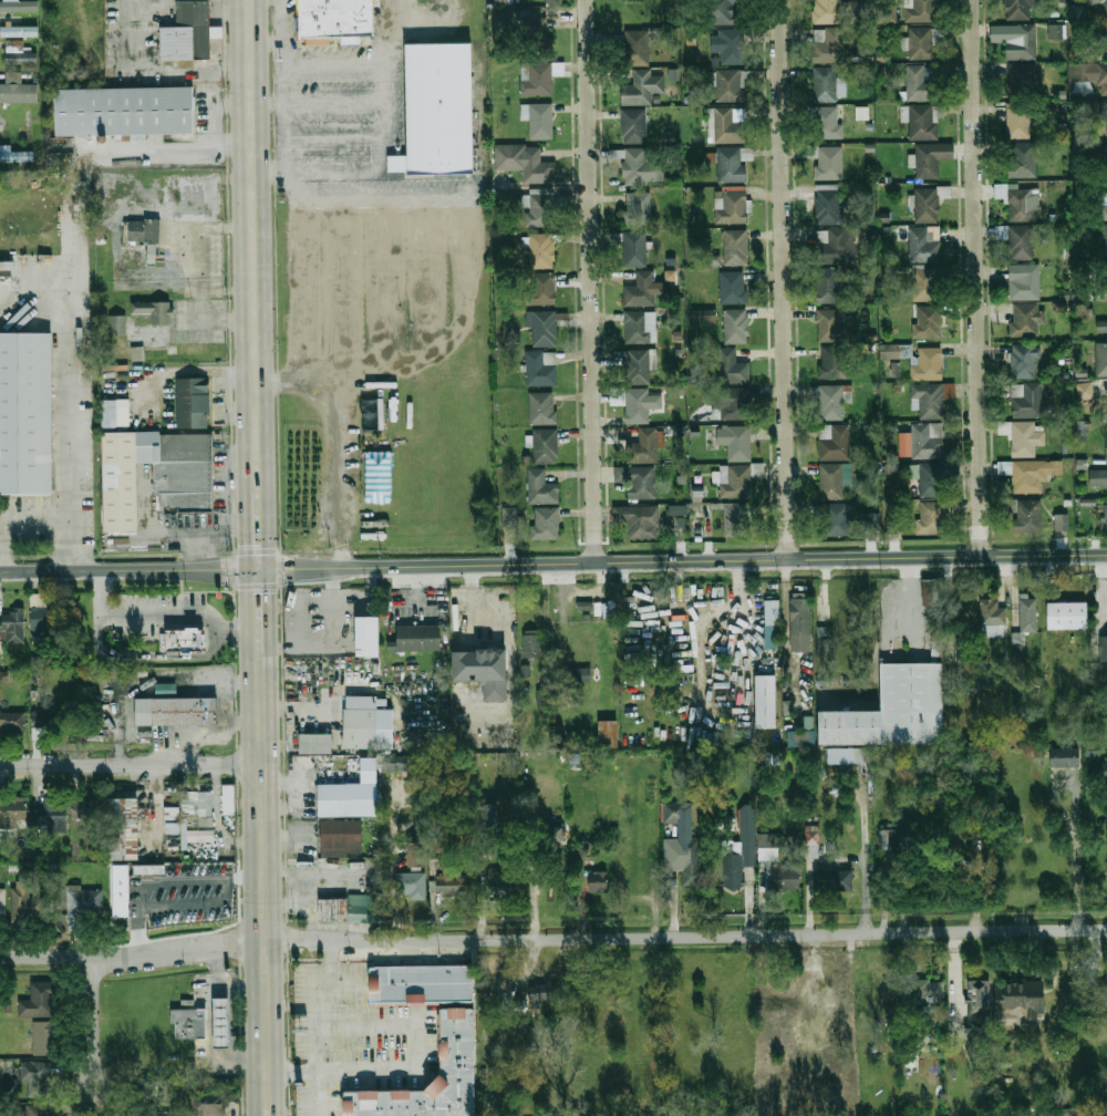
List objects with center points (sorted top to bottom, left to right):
building: (503, 1)
parking lot: (282, 4)
building: (19, 7)
building: (1100, 7)
building: (1022, 9)
building: (724, 11)
building: (829, 11)
building: (921, 11)
building: (889, 14)
building: (504, 17)
building: (338, 18)
building: (536, 28)
building: (20, 31)
building: (1056, 31)
building: (190, 32)
road: (401, 34)
road: (265, 37)
building: (1106, 40)
building: (1022, 42)
building: (922, 43)
building: (731, 45)
building: (828, 45)
building: (637, 49)
building: (20, 54)
building: (882, 56)
building: (673, 74)
building: (1088, 75)
building: (1025, 79)
building: (921, 83)
building: (826, 84)
building: (731, 85)
road: (382, 87)
building: (537, 87)
building: (642, 89)
building: (18, 90)
road: (268, 103)
building: (441, 108)
building: (125, 113)
building: (861, 113)
road: (283, 114)
building: (1104, 118)
building: (539, 120)
building: (1018, 120)
building: (924, 121)
parking lot: (342, 122)
building: (827, 123)
building: (634, 125)
building: (726, 125)
building: (17, 156)
building: (930, 157)
building: (1023, 159)
building: (1103, 159)
building: (829, 162)
building: (396, 163)
building: (525, 163)
building: (731, 164)
building: (641, 168)
road: (268, 172)
building: (1021, 200)
building: (827, 203)
building: (925, 204)
building: (1104, 204)
building: (731, 207)
building: (541, 208)
building: (637, 208)
building: (142, 230)
building: (1017, 240)
building: (1104, 241)
building: (924, 242)
road: (254, 244)
building: (835, 245)
building: (735, 247)
building: (635, 249)
building: (541, 251)
road: (979, 277)
road: (71, 278)
road: (786, 279)
building: (1105, 279)
road: (596, 280)
building: (1024, 281)
building: (828, 285)
building: (925, 286)
building: (733, 287)
building: (639, 288)
building: (540, 290)
building: (153, 310)
building: (703, 314)
road: (215, 319)
building: (1025, 319)
parking lot: (197, 320)
building: (928, 322)
building: (116, 323)
building: (735, 324)
building: (829, 324)
building: (640, 327)
building: (1101, 328)
building: (542, 329)
building: (136, 353)
building: (918, 359)
building: (1101, 359)
building: (1025, 360)
building: (835, 362)
building: (638, 366)
building: (732, 366)
road: (184, 369)
building: (541, 369)
building: (894, 369)
road: (298, 378)
building: (1084, 390)
building: (1106, 393)
building: (928, 400)
building: (1027, 400)
building: (832, 402)
building: (190, 403)
building: (730, 403)
building: (638, 406)
building: (542, 407)
building: (27, 413)
building: (114, 413)
building: (1082, 431)
building: (1023, 438)
building: (927, 440)
building: (735, 441)
building: (835, 442)
building: (1106, 444)
building: (545, 446)
building: (642, 446)
road: (340, 472)
building: (156, 473)
building: (1025, 475)
building: (933, 476)
building: (1097, 479)
building: (638, 482)
building: (734, 482)
building: (832, 482)
building: (541, 486)
building: (677, 509)
road: (13, 515)
building: (508, 516)
building: (730, 516)
building: (1027, 516)
building: (930, 517)
building: (1106, 518)
building: (638, 519)
building: (836, 519)
building: (870, 520)
building: (673, 521)
building: (1061, 521)
building: (545, 524)
road: (258, 527)
road: (741, 559)
road: (317, 567)
road: (130, 569)
traffic signals: (259, 569)
road: (671, 570)
road: (237, 582)
road: (213, 592)
building: (930, 592)
road: (909, 598)
road: (260, 606)
building: (1069, 611)
building: (1026, 613)
building: (799, 617)
building: (992, 617)
building: (43, 619)
road: (161, 619)
road: (701, 624)
building: (772, 624)
building: (12, 626)
building: (370, 635)
building: (417, 639)
building: (183, 641)
building: (824, 641)
building: (1105, 644)
building: (532, 645)
building: (188, 654)
building: (498, 663)
building: (525, 670)
building: (581, 675)
road: (158, 686)
building: (165, 690)
building: (763, 701)
building: (365, 702)
building: (911, 703)
building: (177, 711)
building: (44, 720)
building: (12, 721)
building: (847, 726)
building: (361, 727)
building: (609, 734)
building: (798, 738)
building: (317, 743)
building: (848, 755)
building: (1063, 756)
building: (397, 763)
road: (132, 764)
building: (1098, 769)
building: (350, 794)
building: (229, 799)
building: (198, 803)
building: (87, 809)
building: (11, 815)
building: (173, 818)
building: (51, 819)
building: (125, 828)
building: (486, 828)
road: (672, 831)
building: (549, 833)
building: (748, 837)
building: (343, 838)
building: (887, 839)
building: (813, 841)
building: (684, 846)
building: (768, 846)
building: (582, 849)
building: (417, 854)
road: (672, 854)
road: (865, 859)
building: (733, 865)
road: (393, 867)
building: (148, 869)
road: (810, 871)
road: (265, 879)
building: (785, 879)
building: (835, 880)
building: (448, 881)
building: (500, 881)
building: (599, 881)
building: (412, 885)
building: (120, 890)
building: (85, 902)
road: (672, 903)
building: (2, 905)
building: (27, 905)
building: (350, 909)
road: (686, 937)
road: (182, 949)
road: (48, 957)
building: (422, 983)
building: (1099, 983)
road: (239, 984)
building: (928, 988)
building: (545, 992)
building: (1021, 999)
building: (39, 1000)
building: (979, 1000)
building: (823, 1004)
road: (95, 1021)
building: (223, 1021)
gas station: (223, 1021)
road: (234, 1022)
building: (188, 1023)
road: (210, 1025)
road: (413, 1029)
building: (43, 1037)
building: (456, 1042)
building: (807, 1054)
road: (318, 1072)
building: (35, 1077)
building: (147, 1087)
building: (173, 1087)
building: (208, 1103)
building: (35, 1110)
building: (164, 1114)

